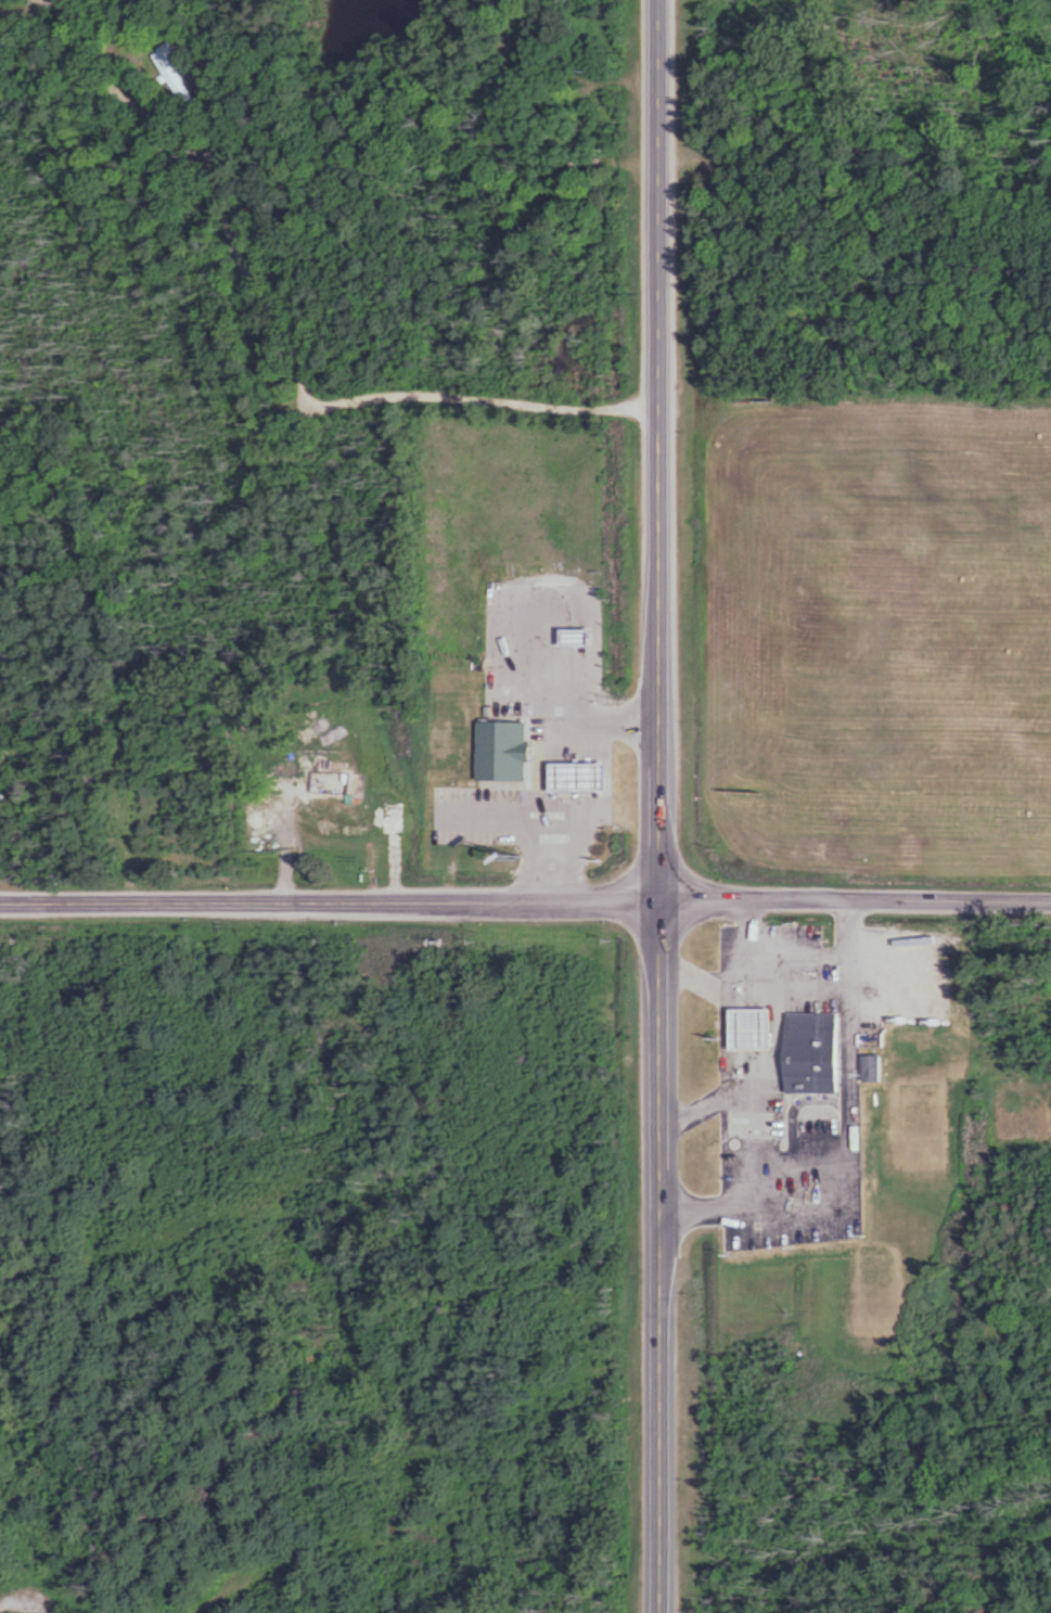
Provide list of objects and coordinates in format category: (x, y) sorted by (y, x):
building: (169, 68)
road: (657, 450)
building: (569, 637)
building: (499, 750)
building: (572, 776)
building: (88, 779)
building: (390, 818)
building: (345, 823)
road: (525, 901)
road: (748, 947)
road: (786, 989)
building: (746, 1030)
building: (809, 1051)
building: (868, 1067)
road: (741, 1143)
road: (661, 1256)

